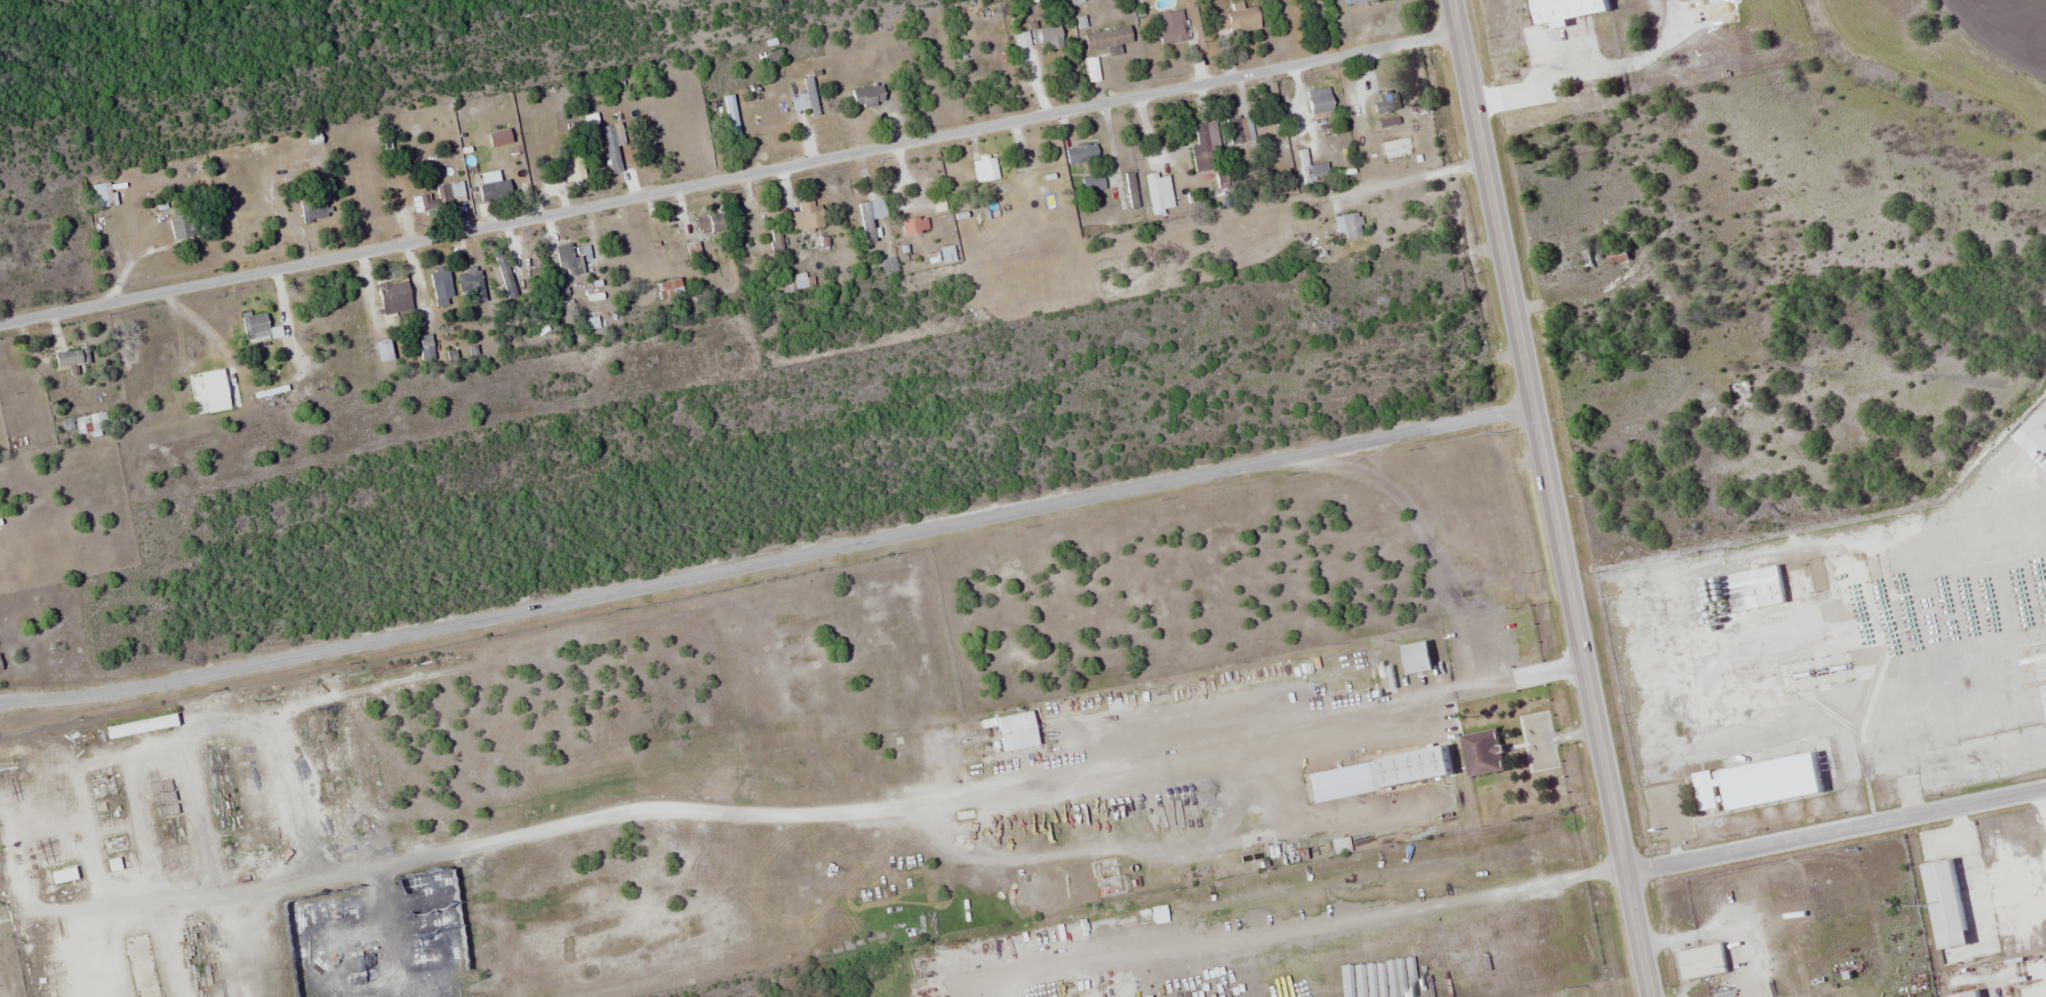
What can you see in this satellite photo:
building: (1075, 1)
building: (1356, 1)
building: (1571, 10)
building: (1236, 22)
building: (1169, 27)
building: (1046, 37)
building: (1108, 38)
building: (867, 96)
building: (806, 98)
building: (1319, 103)
building: (1385, 103)
building: (732, 119)
building: (1238, 129)
building: (613, 146)
building: (1204, 146)
building: (1271, 146)
building: (1081, 154)
building: (312, 159)
building: (1318, 169)
road: (729, 178)
building: (494, 187)
building: (1159, 192)
building: (450, 194)
building: (103, 195)
building: (366, 203)
building: (313, 209)
building: (805, 217)
building: (869, 217)
building: (716, 224)
building: (1348, 225)
building: (184, 226)
building: (915, 226)
building: (752, 233)
building: (948, 253)
building: (1619, 254)
building: (568, 260)
building: (888, 266)
building: (506, 275)
building: (471, 285)
building: (442, 287)
building: (670, 290)
building: (395, 297)
building: (255, 325)
building: (75, 362)
road: (1551, 498)
road: (767, 561)
building: (1763, 593)
building: (1420, 657)
building: (142, 726)
building: (1017, 731)
building: (1484, 752)
building: (1411, 767)
building: (1780, 779)
building: (1709, 789)
road: (1836, 830)
building: (1340, 845)
building: (115, 866)
building: (7, 867)
building: (65, 876)
building: (1952, 903)
building: (1159, 914)
building: (1706, 960)
building: (145, 972)
building: (1974, 994)

